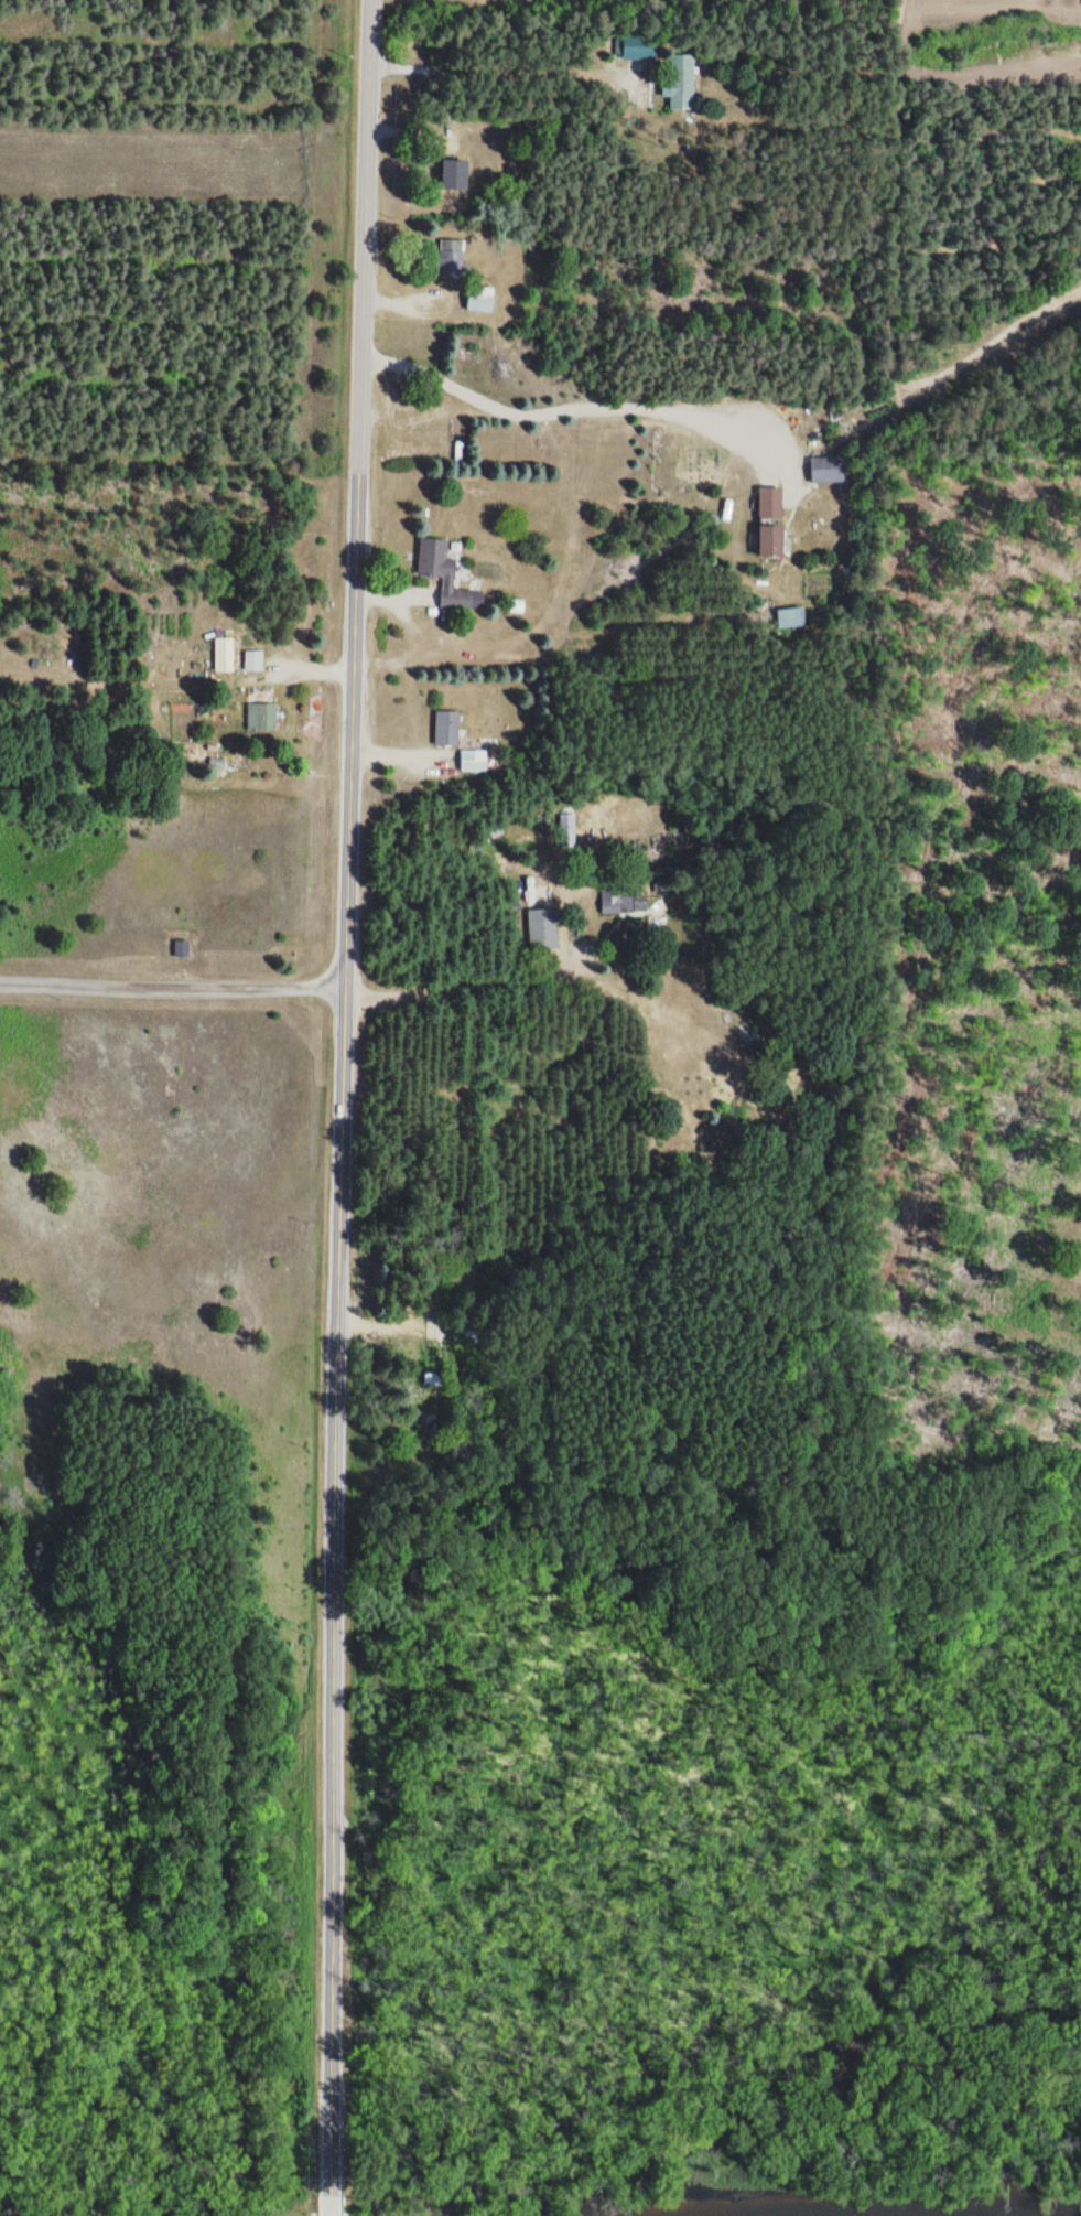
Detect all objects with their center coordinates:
building: (639, 49)
building: (681, 82)
building: (451, 259)
road: (360, 278)
building: (825, 470)
building: (770, 504)
building: (771, 540)
building: (442, 571)
building: (789, 617)
building: (224, 655)
building: (252, 661)
building: (261, 718)
building: (446, 729)
building: (473, 761)
building: (624, 901)
building: (542, 928)
building: (181, 948)
road: (262, 989)
road: (337, 1384)
river: (1055, 2213)
road: (327, 2214)

